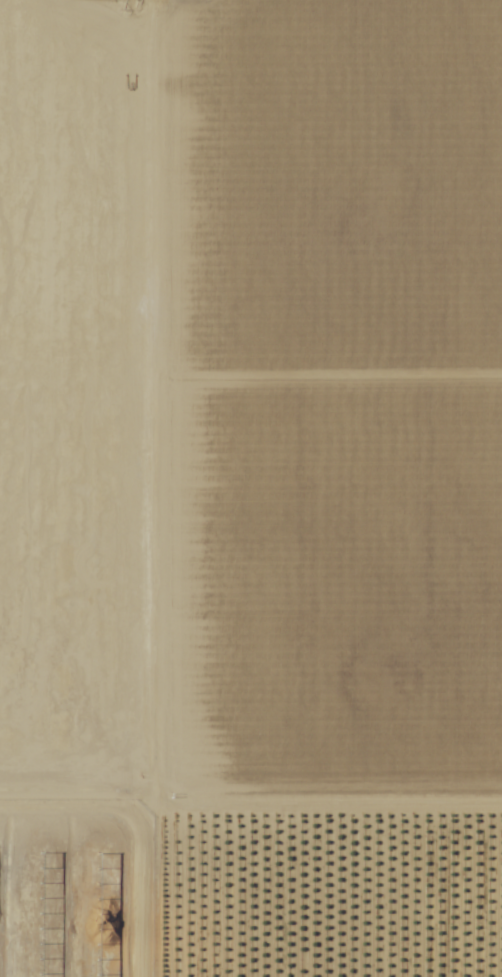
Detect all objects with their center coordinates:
road: (144, 488)

